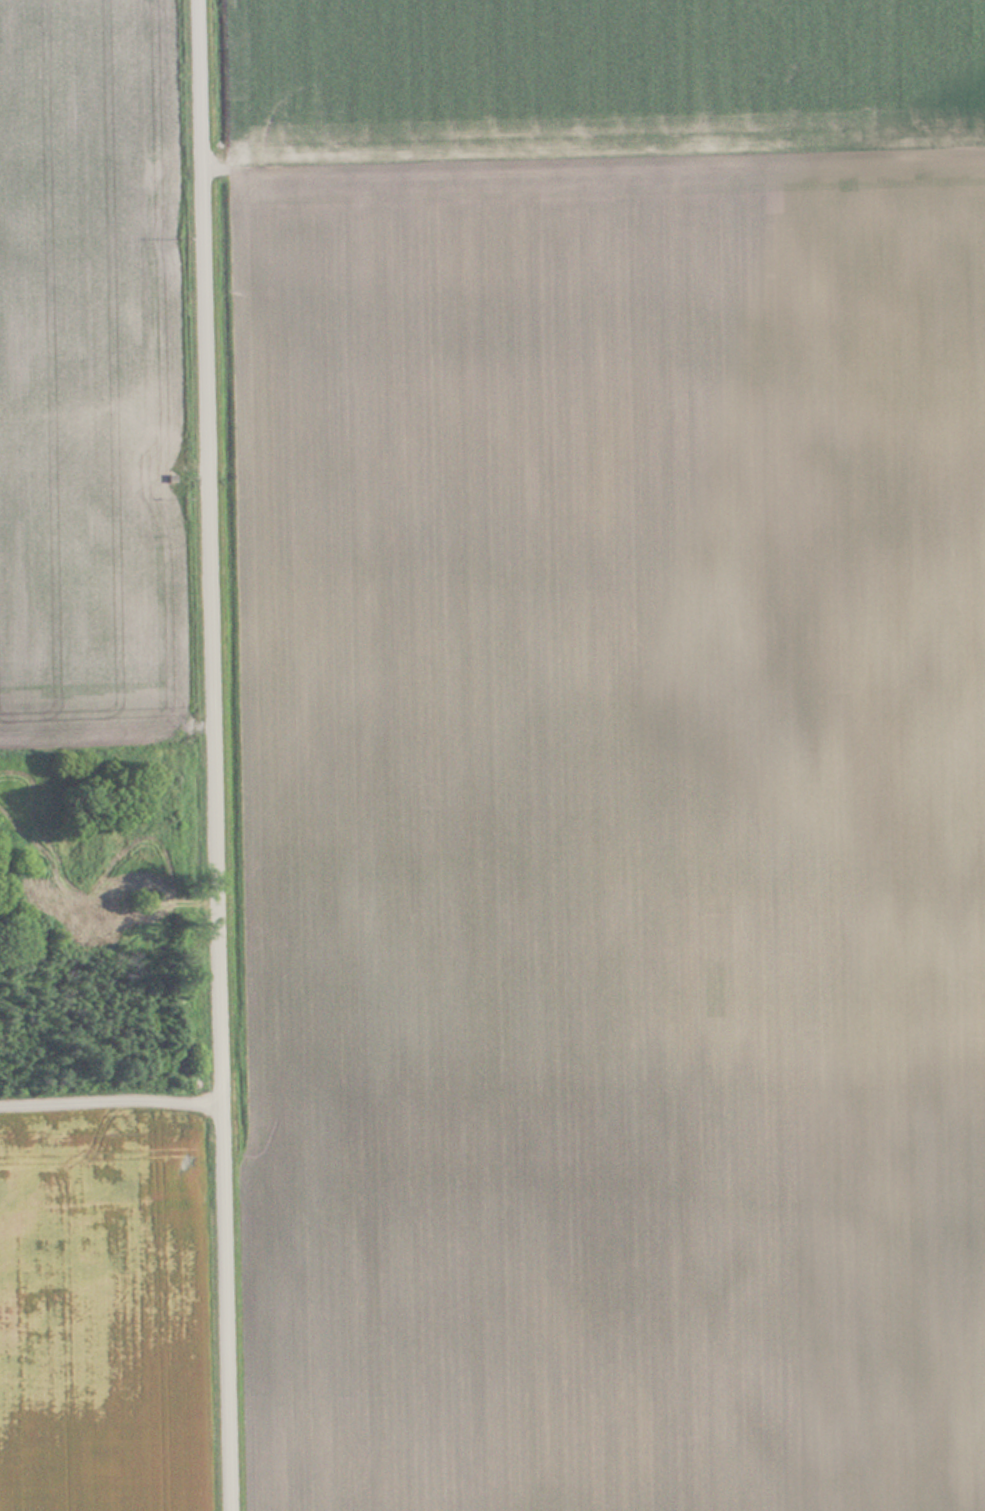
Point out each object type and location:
road: (219, 755)
road: (113, 1086)

